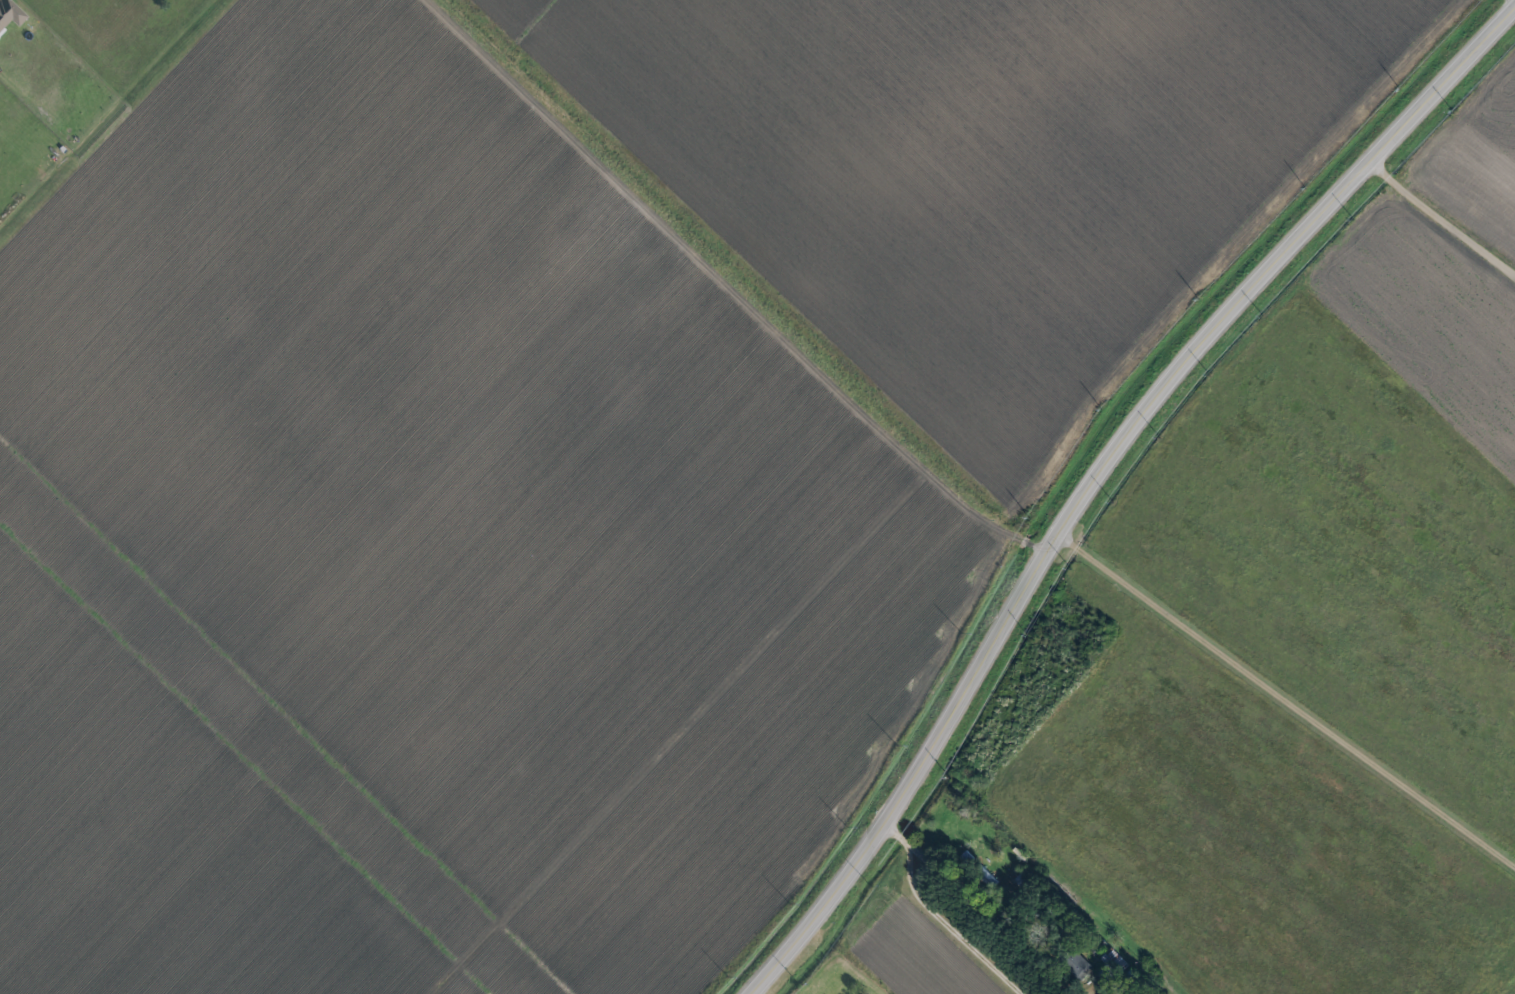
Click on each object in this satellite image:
building: (10, 13)
road: (1448, 203)
road: (897, 411)
road: (1094, 475)
road: (1288, 693)
road: (930, 916)
building: (1081, 967)
road: (770, 985)

